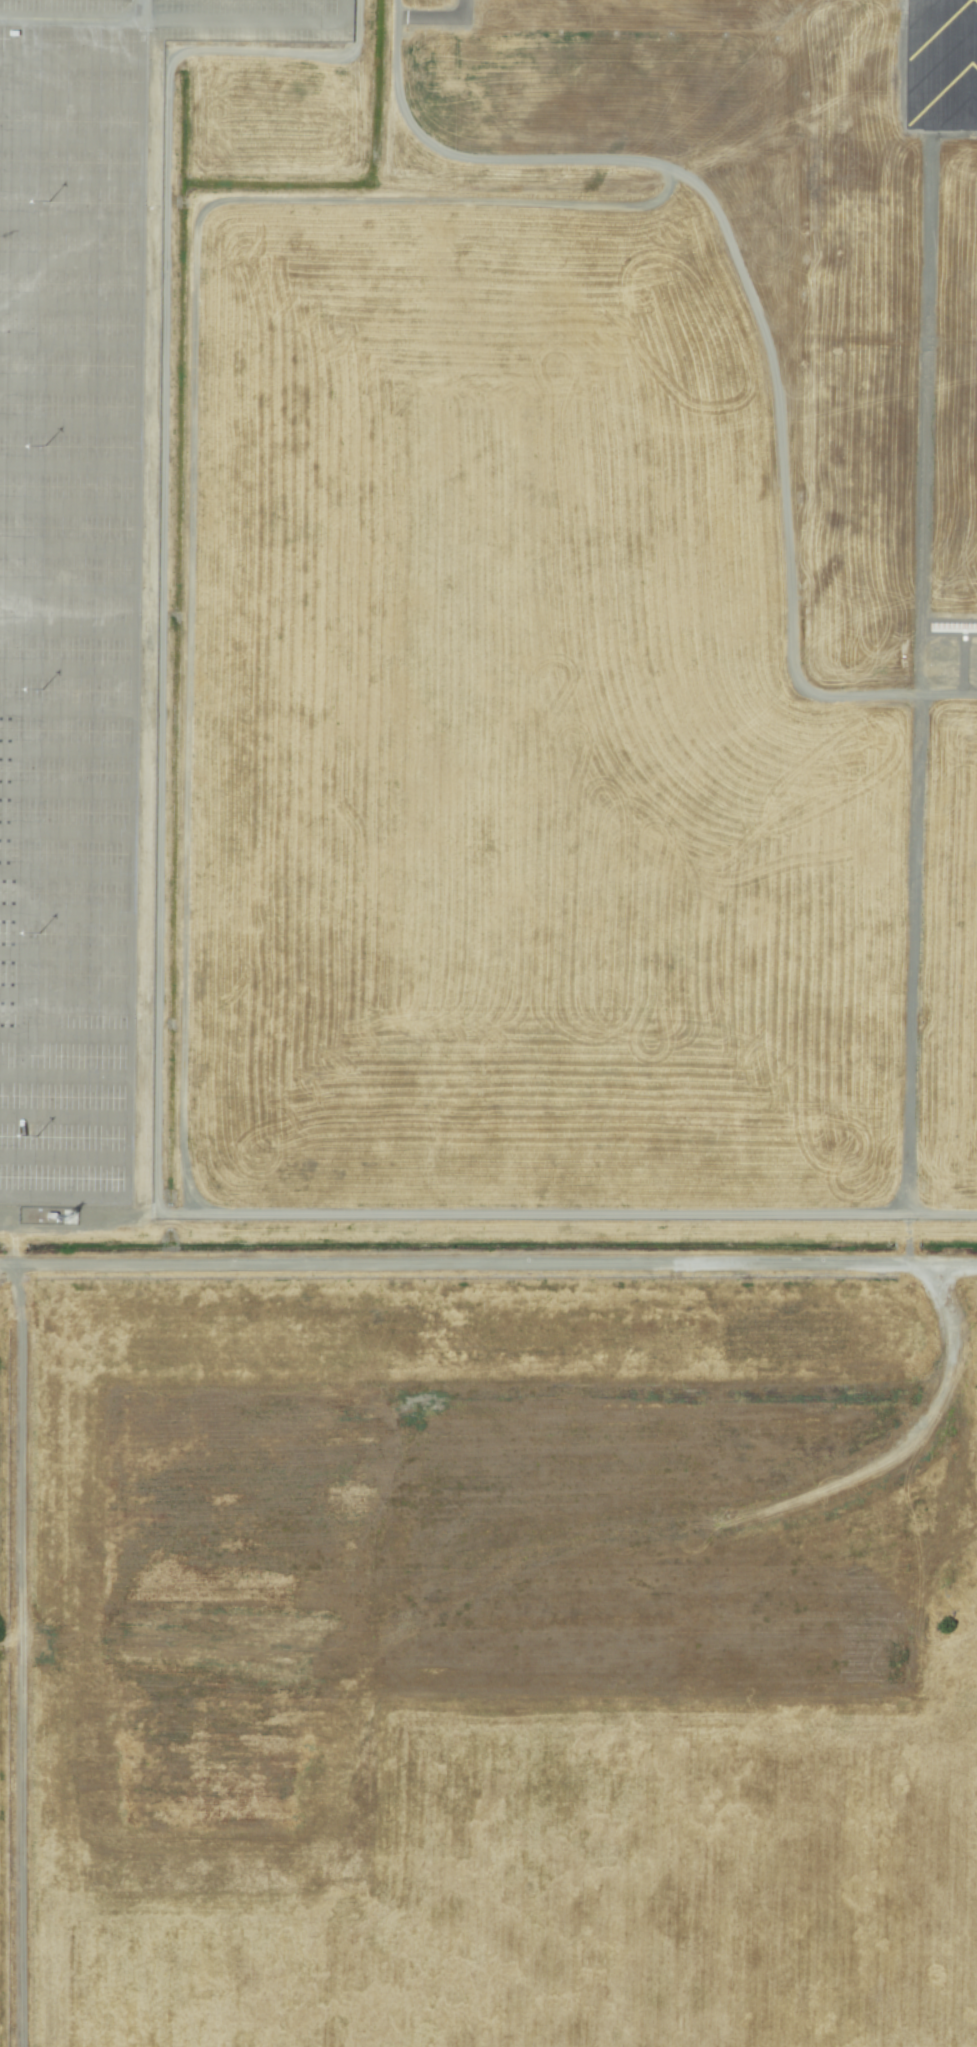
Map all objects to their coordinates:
road: (139, 11)
road: (344, 12)
road: (69, 21)
road: (241, 23)
road: (69, 60)
road: (69, 100)
road: (69, 140)
road: (68, 180)
road: (68, 222)
road: (68, 264)
road: (68, 300)
road: (68, 344)
road: (67, 386)
road: (67, 427)
road: (67, 464)
road: (67, 503)
road: (67, 549)
parking lot: (78, 563)
road: (66, 591)
road: (66, 630)
road: (66, 669)
road: (132, 674)
road: (66, 706)
road: (65, 748)
road: (65, 791)
road: (65, 829)
road: (65, 871)
road: (65, 909)
road: (910, 949)
road: (64, 952)
road: (64, 994)
airport: (488, 1023)
road: (64, 1033)
road: (64, 1075)
road: (63, 1119)
road: (63, 1158)
railway: (488, 1230)
road: (488, 1266)

